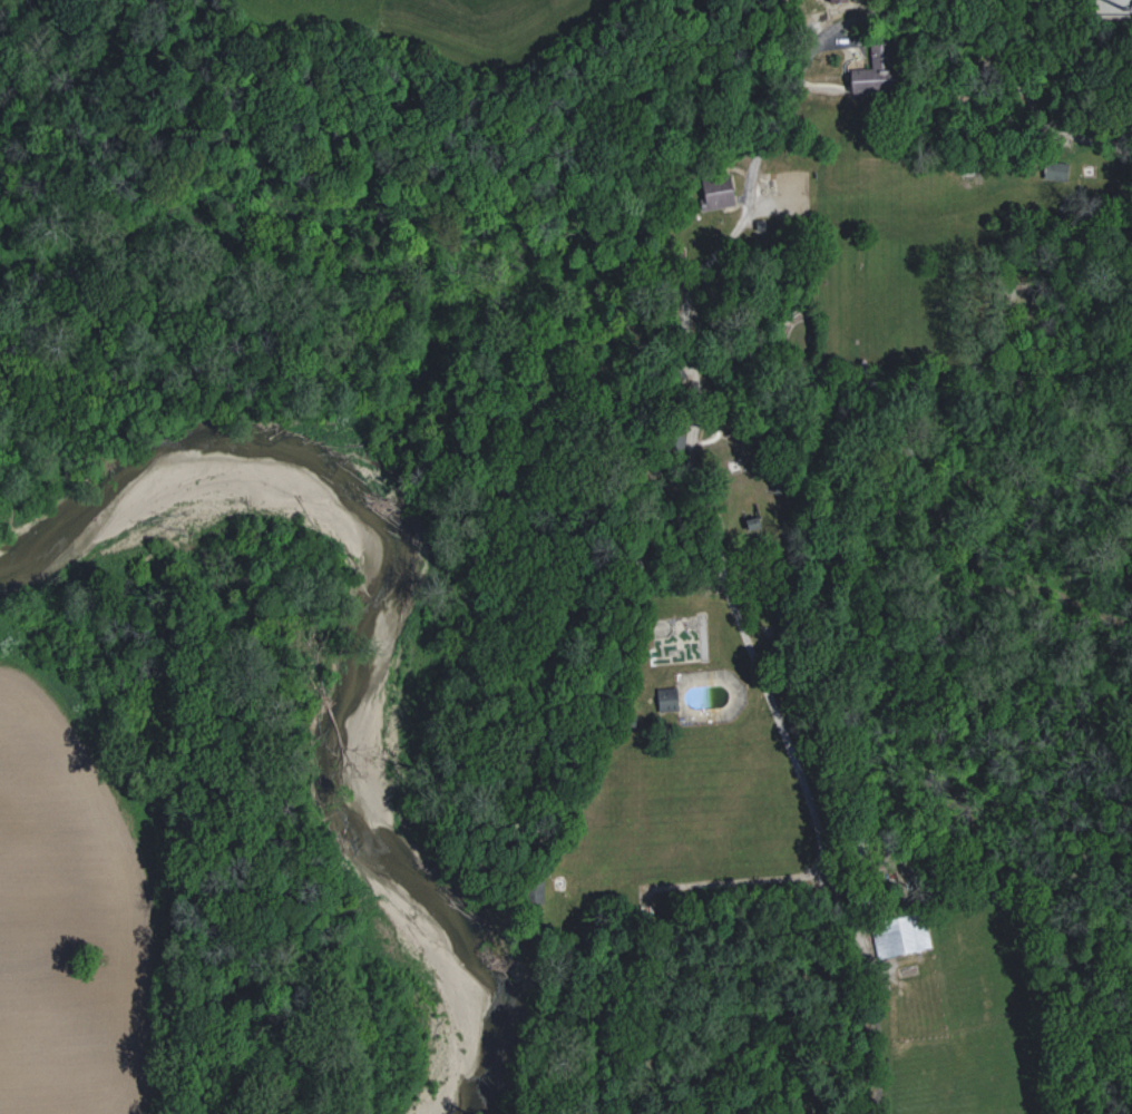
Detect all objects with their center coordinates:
building: (821, 0)
building: (875, 71)
building: (1055, 170)
building: (716, 192)
road: (689, 475)
building: (667, 698)
building: (535, 890)
building: (900, 936)

